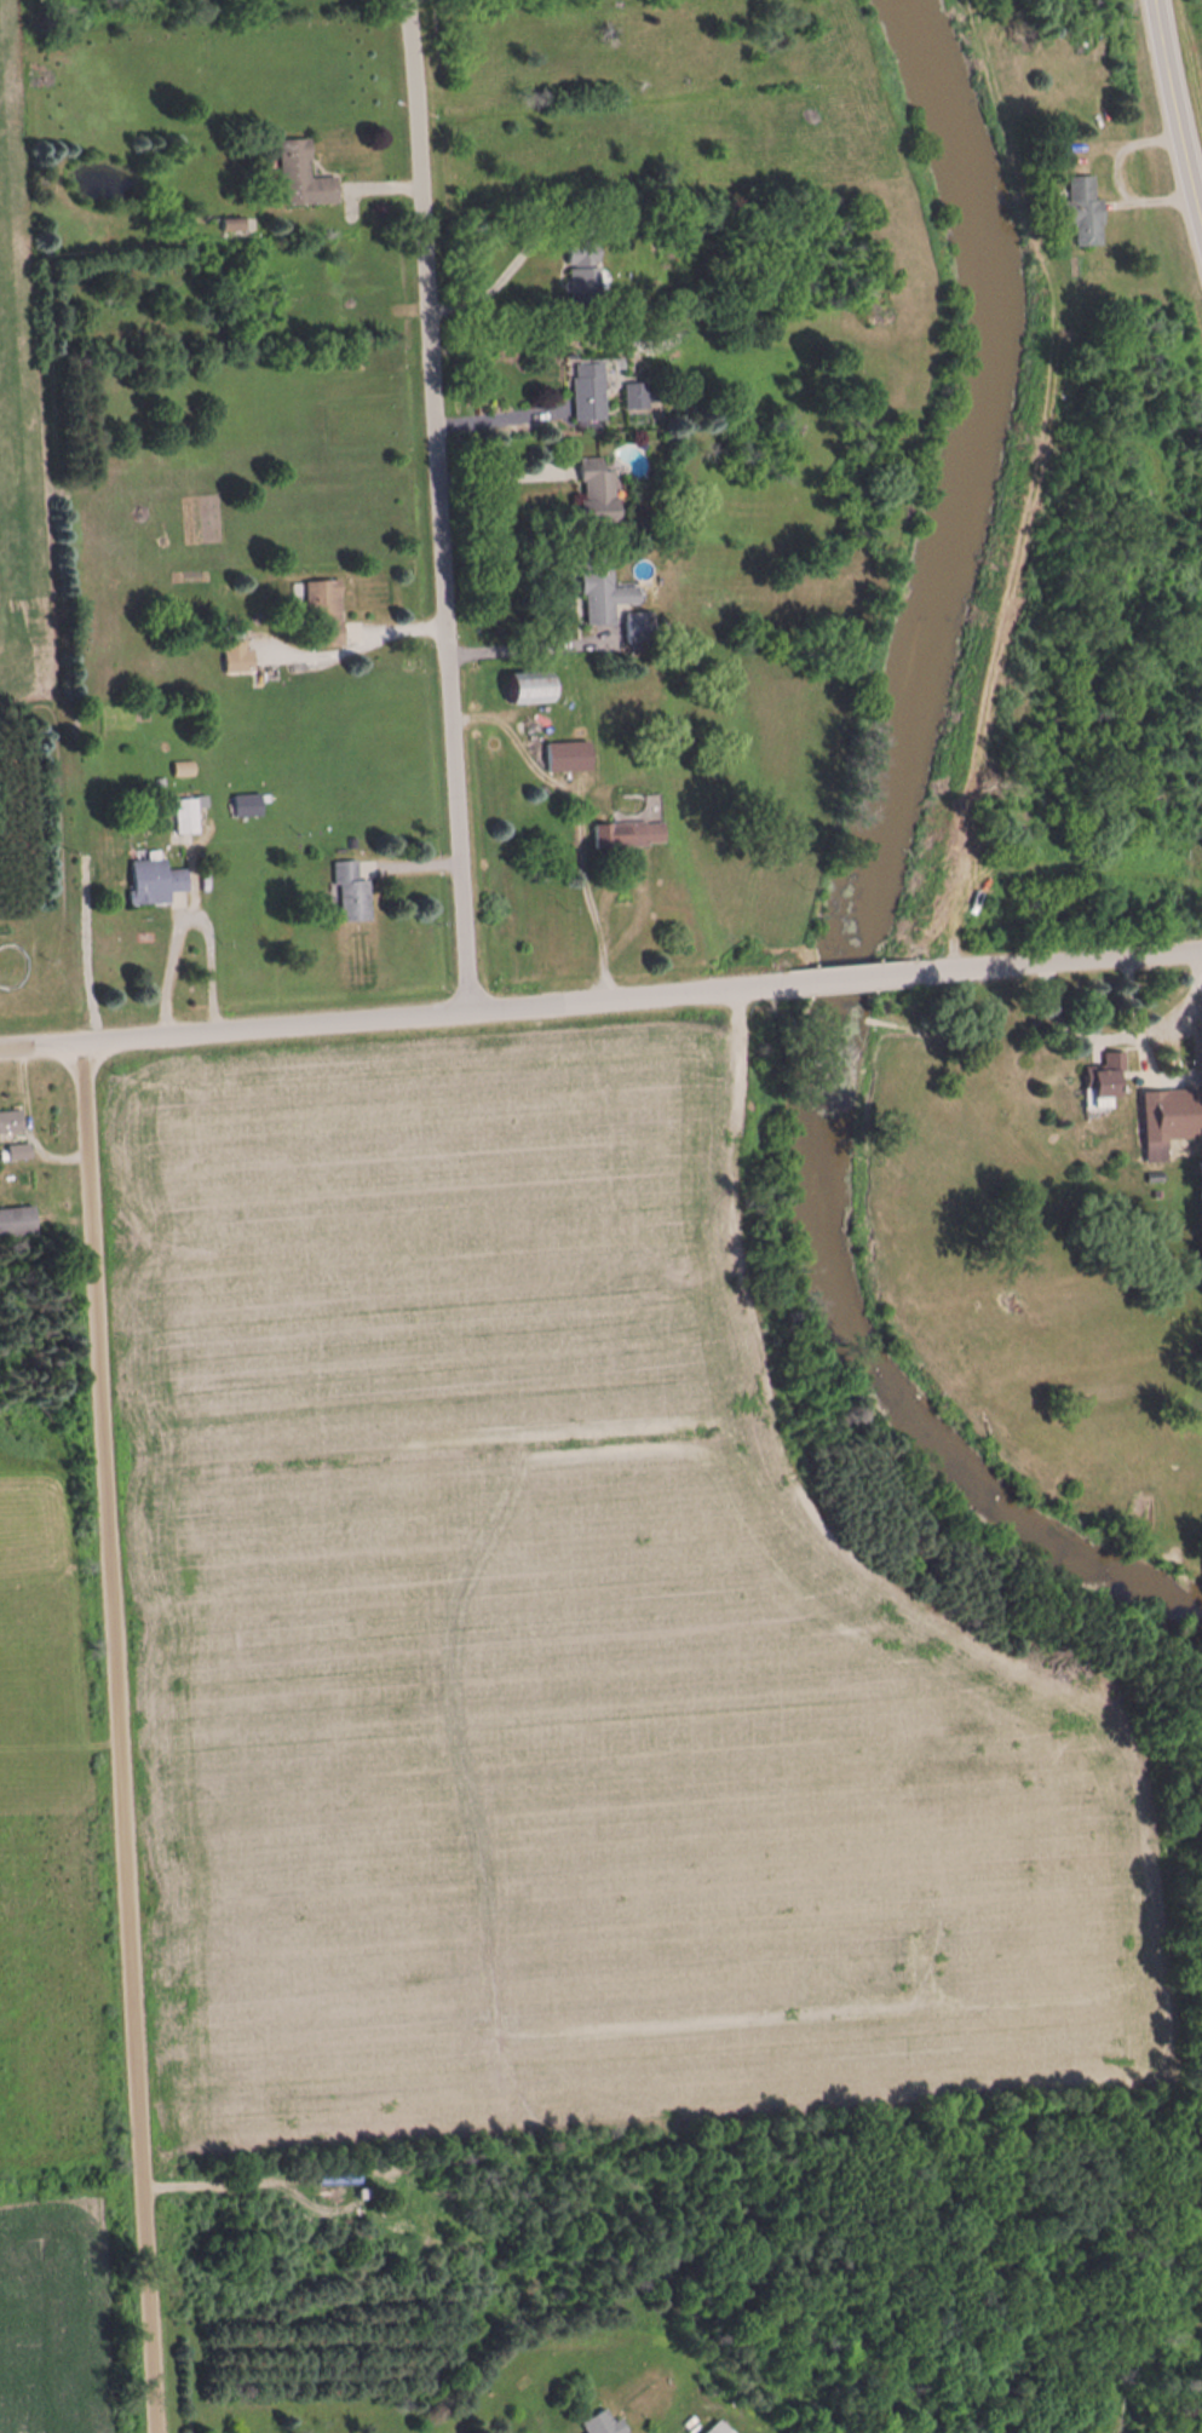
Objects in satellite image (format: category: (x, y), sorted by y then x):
road: (1175, 119)
building: (306, 177)
building: (1085, 211)
building: (590, 277)
building: (592, 392)
building: (638, 397)
building: (603, 494)
road: (433, 507)
building: (608, 596)
building: (328, 615)
building: (644, 628)
building: (242, 661)
building: (541, 689)
building: (573, 758)
building: (248, 806)
building: (190, 816)
building: (633, 835)
building: (157, 882)
building: (356, 895)
river: (857, 899)
road: (1046, 964)
road: (834, 980)
road: (399, 1019)
road: (11, 1045)
building: (1109, 1082)
building: (12, 1123)
building: (1162, 1127)
building: (19, 1223)
road: (116, 1736)
building: (605, 2423)
building: (723, 2428)

